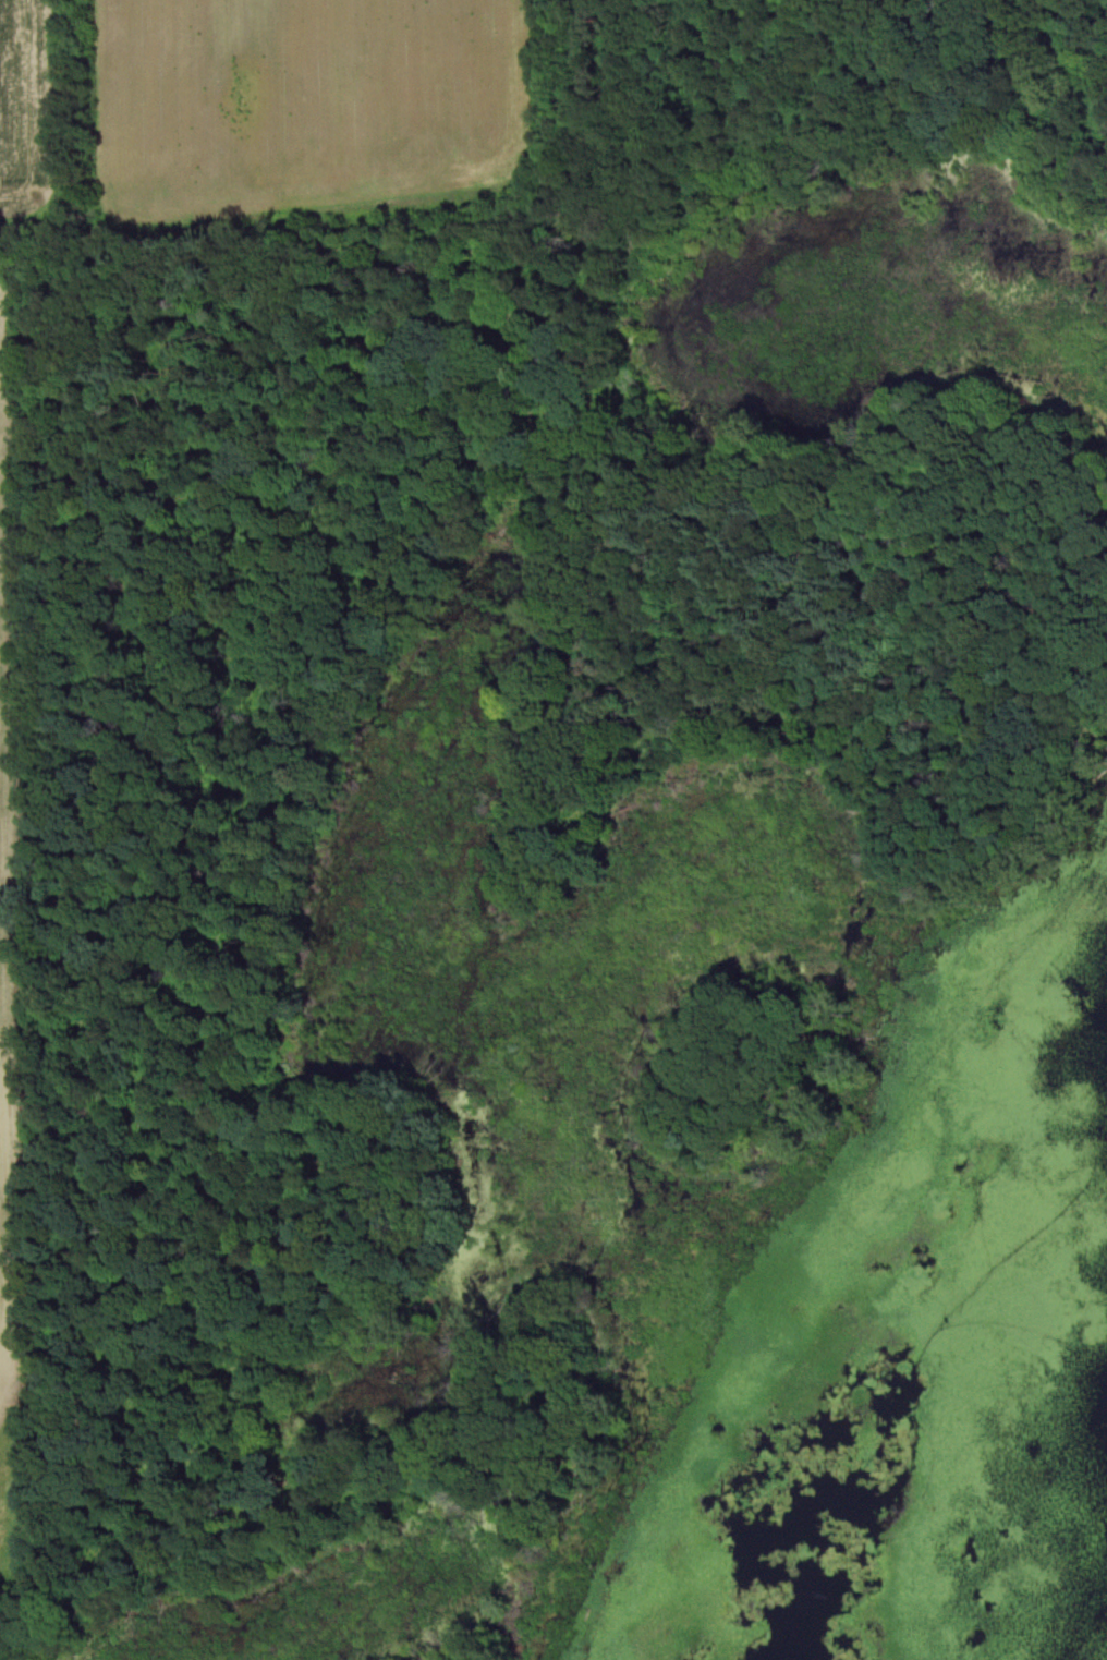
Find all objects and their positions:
road: (511, 392)

